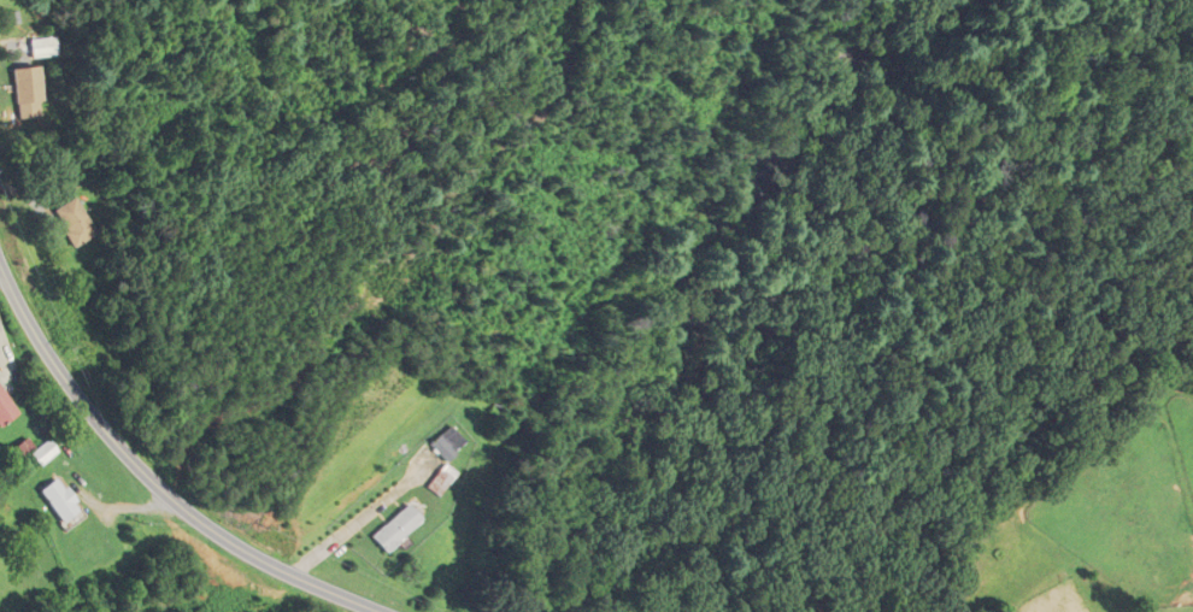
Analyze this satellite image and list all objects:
building: (40, 48)
building: (22, 86)
building: (74, 222)
building: (5, 407)
building: (445, 443)
building: (42, 452)
road: (149, 478)
building: (437, 479)
building: (58, 500)
building: (392, 529)

